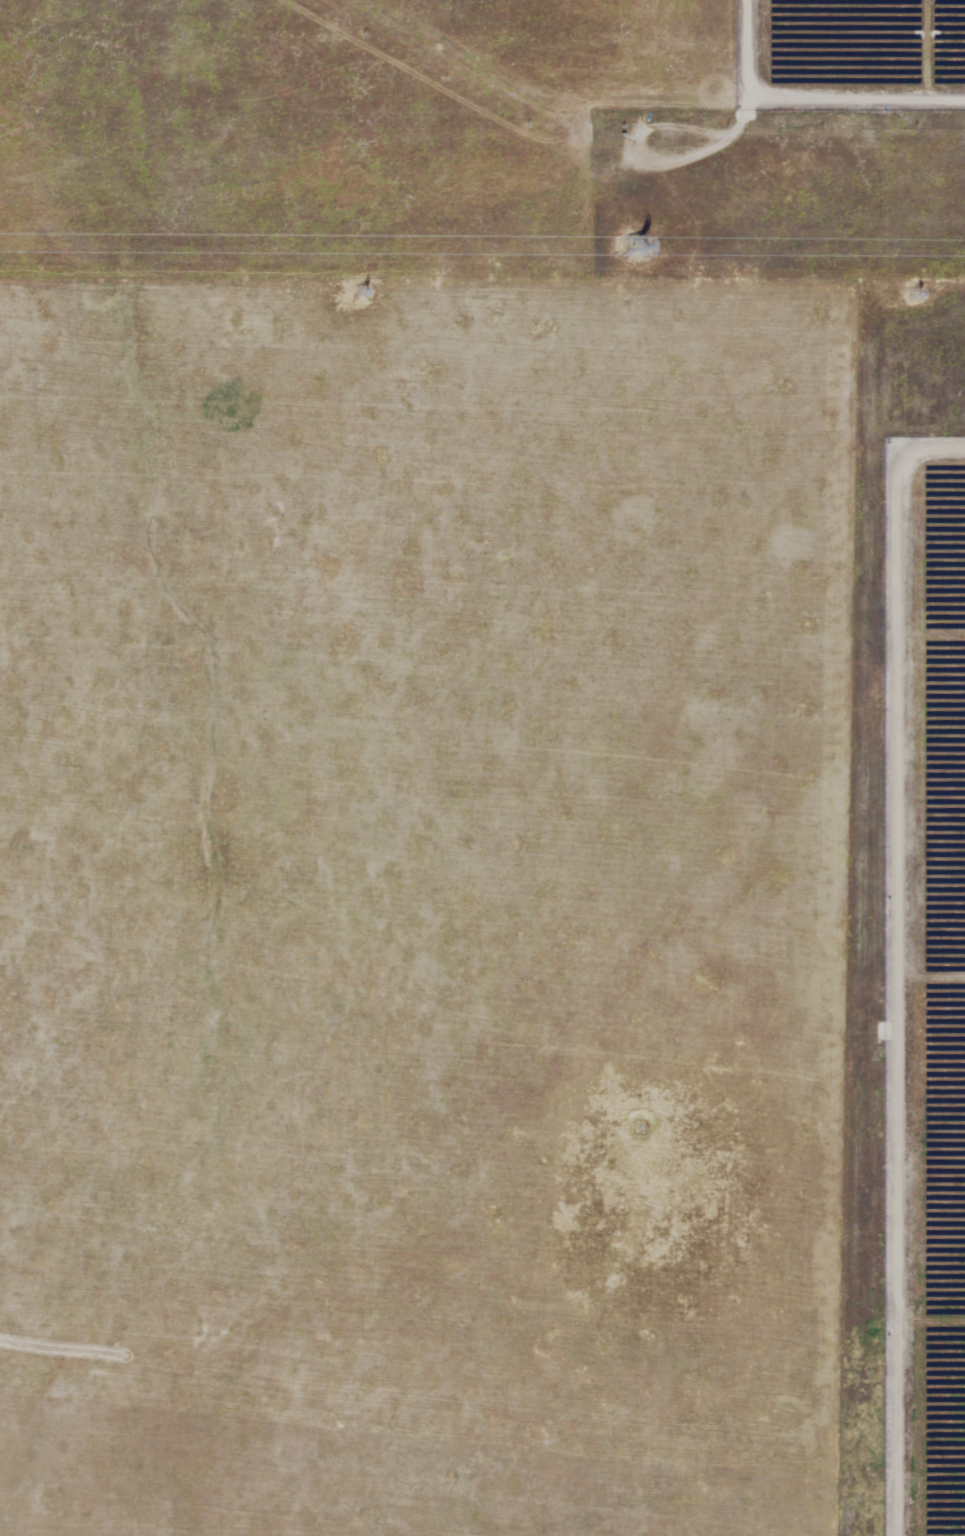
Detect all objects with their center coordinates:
power tower: (631, 246)
power tower: (362, 294)
power tower: (914, 294)
solar farm: (909, 911)

